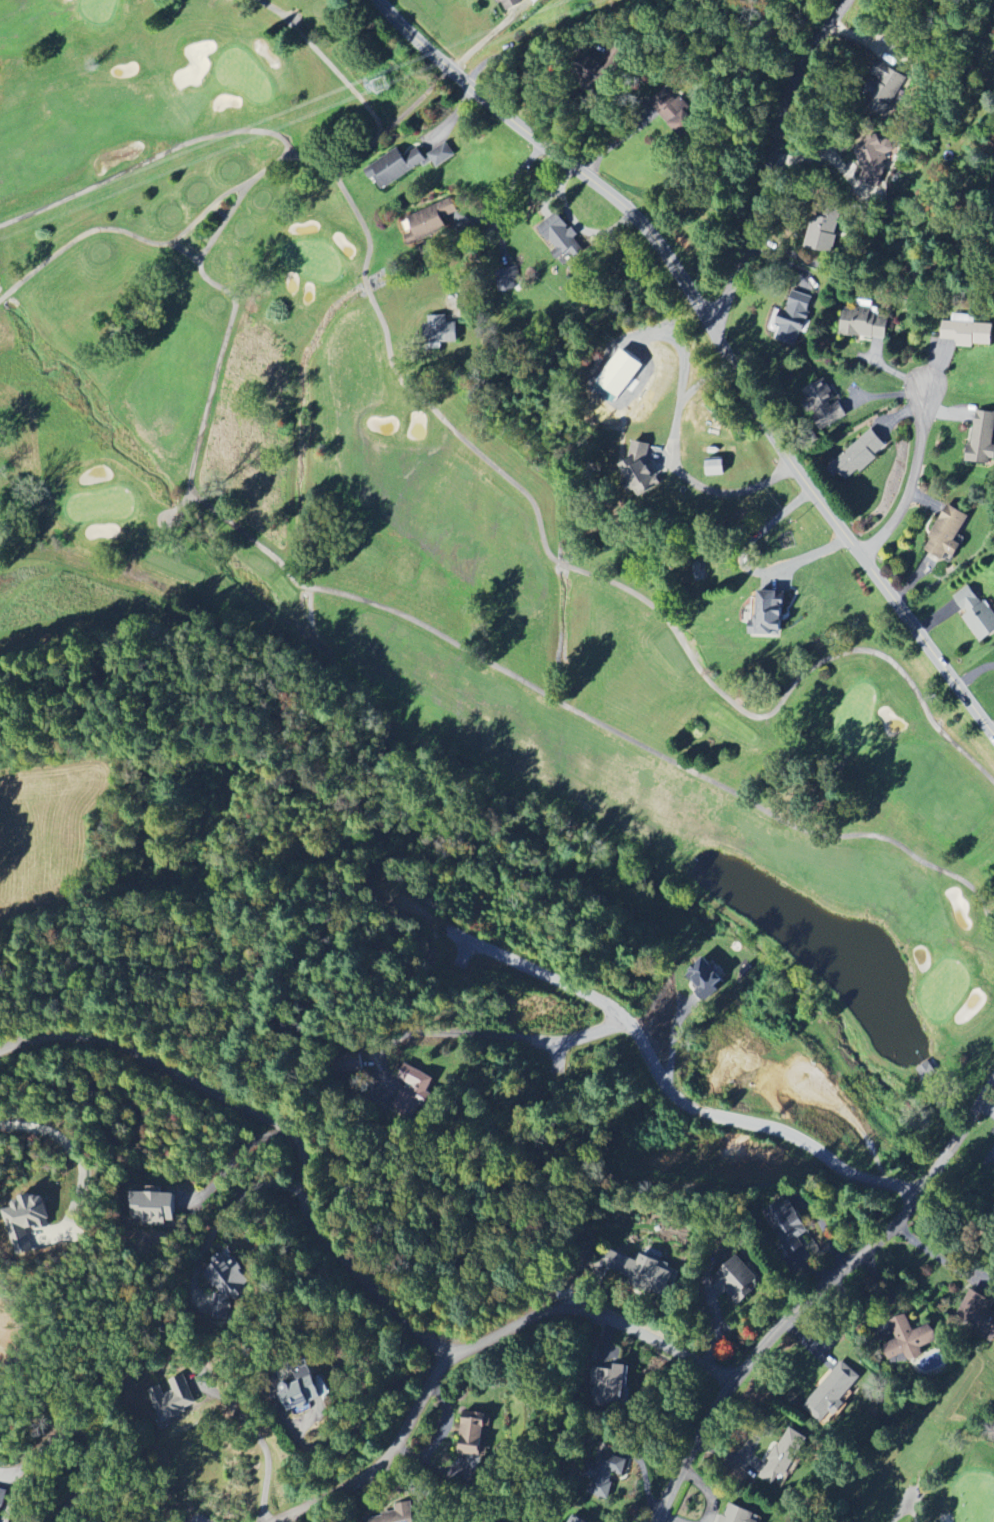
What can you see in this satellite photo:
building: (533, 1)
building: (510, 4)
power tower: (381, 85)
building: (884, 93)
building: (682, 125)
road: (615, 142)
road: (825, 154)
building: (441, 156)
road: (770, 160)
building: (396, 169)
road: (493, 214)
building: (431, 222)
building: (825, 232)
building: (561, 239)
building: (508, 280)
building: (793, 320)
building: (440, 332)
building: (968, 334)
road: (719, 338)
building: (823, 404)
building: (982, 440)
building: (860, 455)
road: (910, 462)
building: (715, 468)
building: (641, 471)
road: (730, 490)
park: (429, 505)
building: (947, 534)
building: (976, 613)
building: (769, 615)
building: (703, 981)
building: (926, 1072)
road: (668, 1086)
building: (411, 1091)
road: (989, 1106)
road: (276, 1127)
road: (76, 1152)
road: (230, 1166)
building: (153, 1207)
building: (25, 1221)
building: (787, 1227)
road: (937, 1256)
building: (640, 1272)
building: (227, 1276)
building: (735, 1280)
road: (813, 1295)
building: (977, 1315)
building: (908, 1341)
road: (475, 1346)
building: (610, 1384)
building: (300, 1393)
building: (831, 1393)
building: (173, 1399)
road: (372, 1411)
road: (81, 1430)
building: (472, 1433)
road: (259, 1438)
park: (944, 1455)
building: (783, 1457)
building: (605, 1471)
building: (1, 1497)
road: (908, 1510)
building: (399, 1516)

